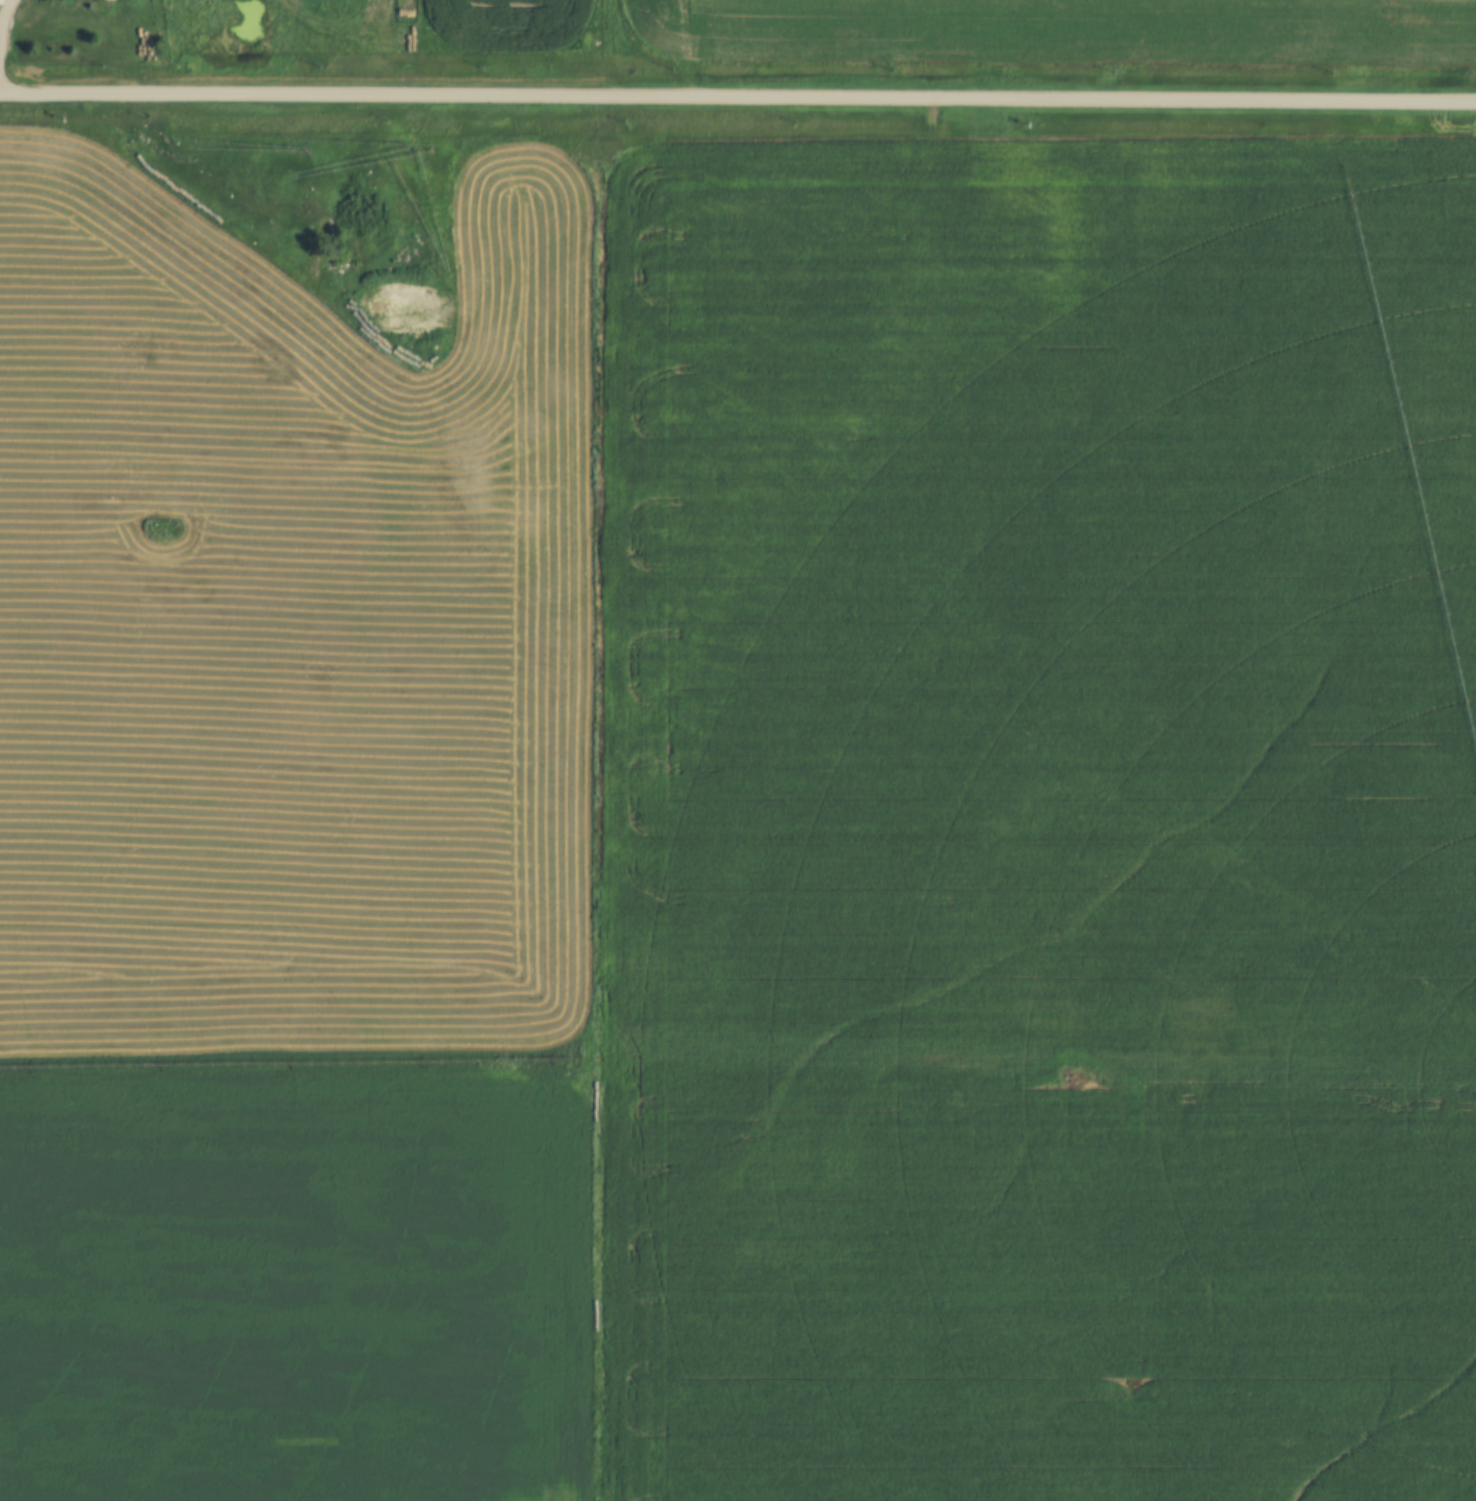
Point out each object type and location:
building: (108, 1)
road: (4, 29)
road: (1, 33)
road: (738, 97)

